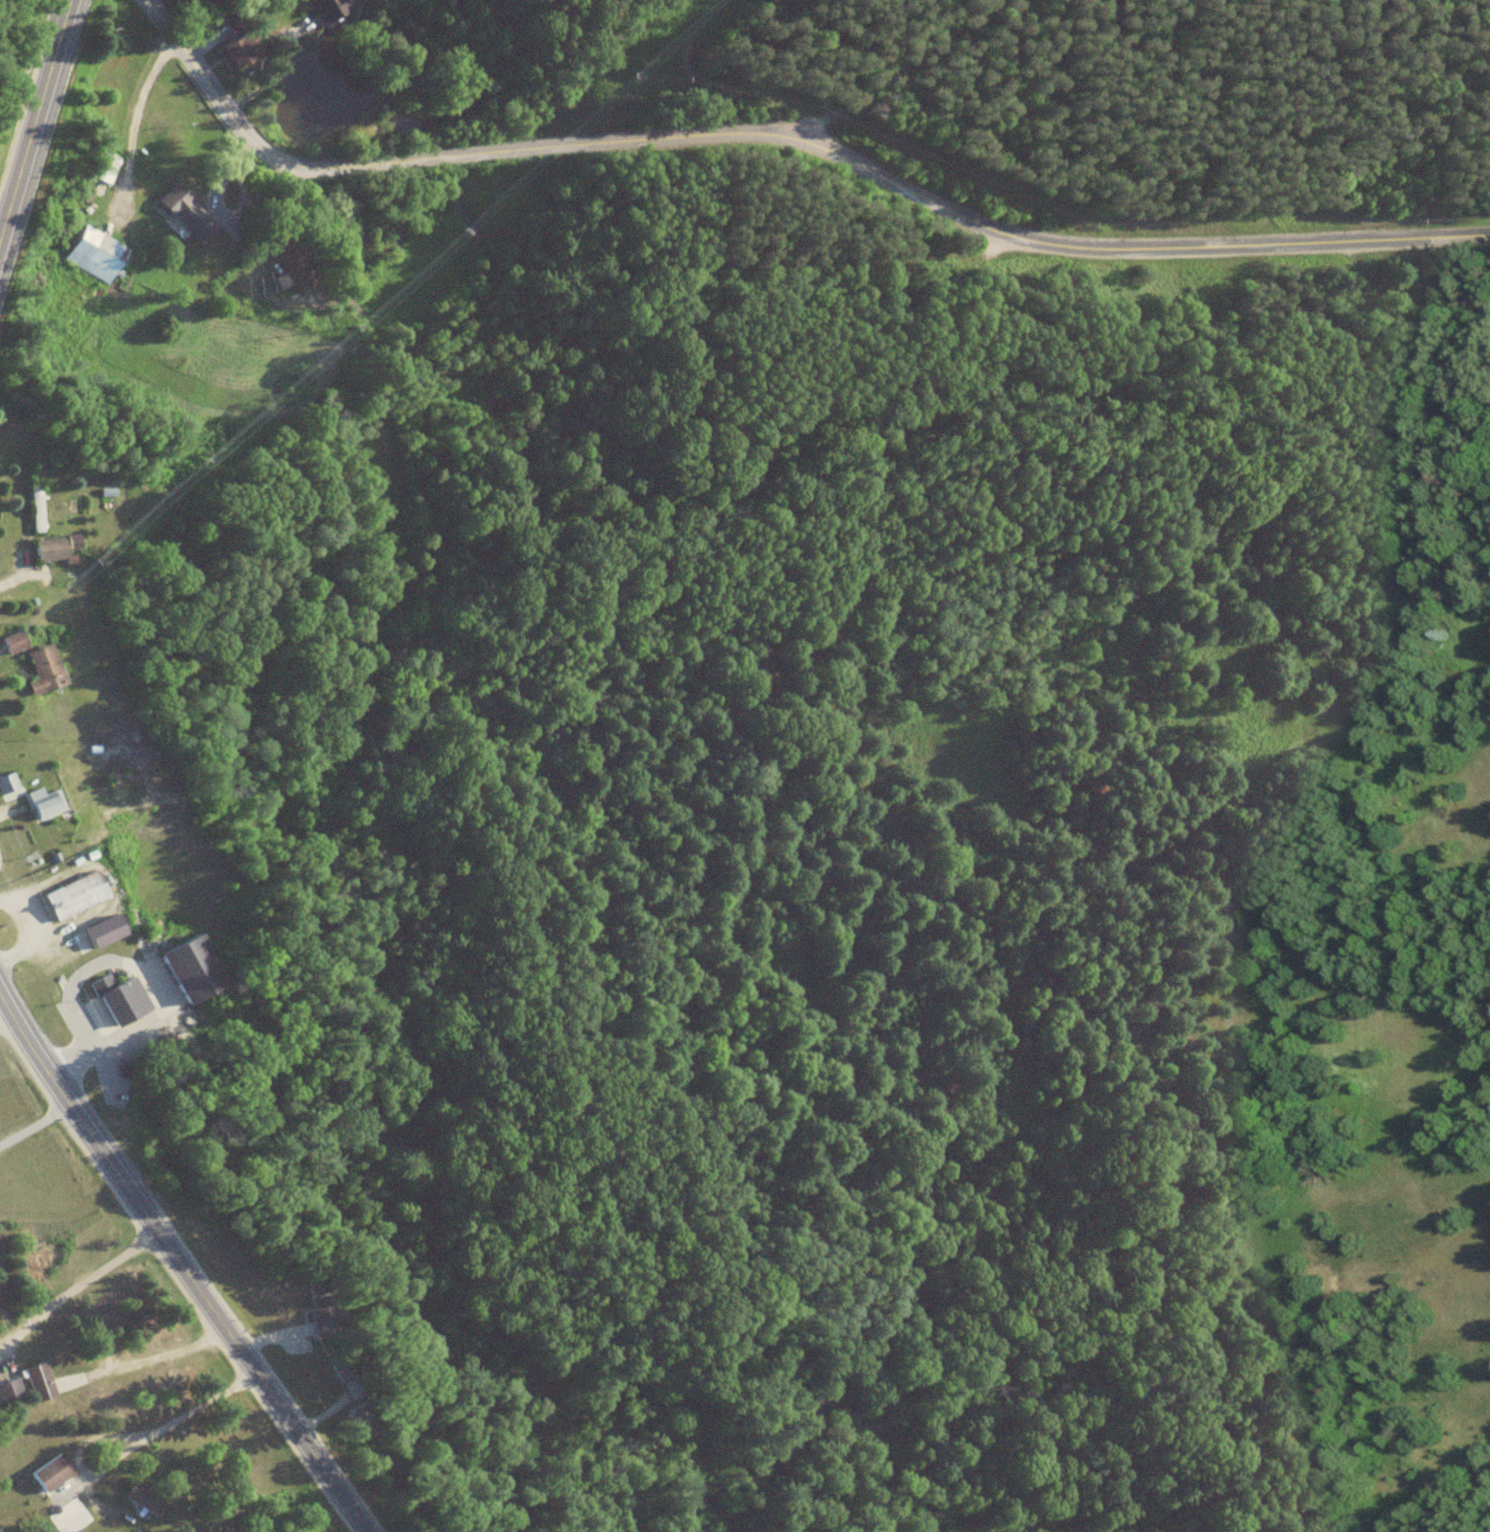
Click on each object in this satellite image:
building: (333, 10)
building: (237, 52)
road: (739, 93)
road: (39, 122)
road: (786, 134)
building: (106, 167)
building: (190, 214)
building: (98, 254)
building: (295, 264)
building: (39, 507)
building: (60, 548)
road: (13, 574)
building: (1406, 579)
building: (17, 641)
building: (47, 669)
building: (10, 787)
building: (47, 803)
building: (77, 895)
building: (107, 930)
building: (195, 968)
building: (122, 997)
road: (175, 1259)
road: (77, 1285)
building: (322, 1326)
road: (146, 1355)
building: (343, 1371)
building: (41, 1382)
building: (10, 1391)
road: (122, 1452)
building: (53, 1472)
building: (144, 1496)

